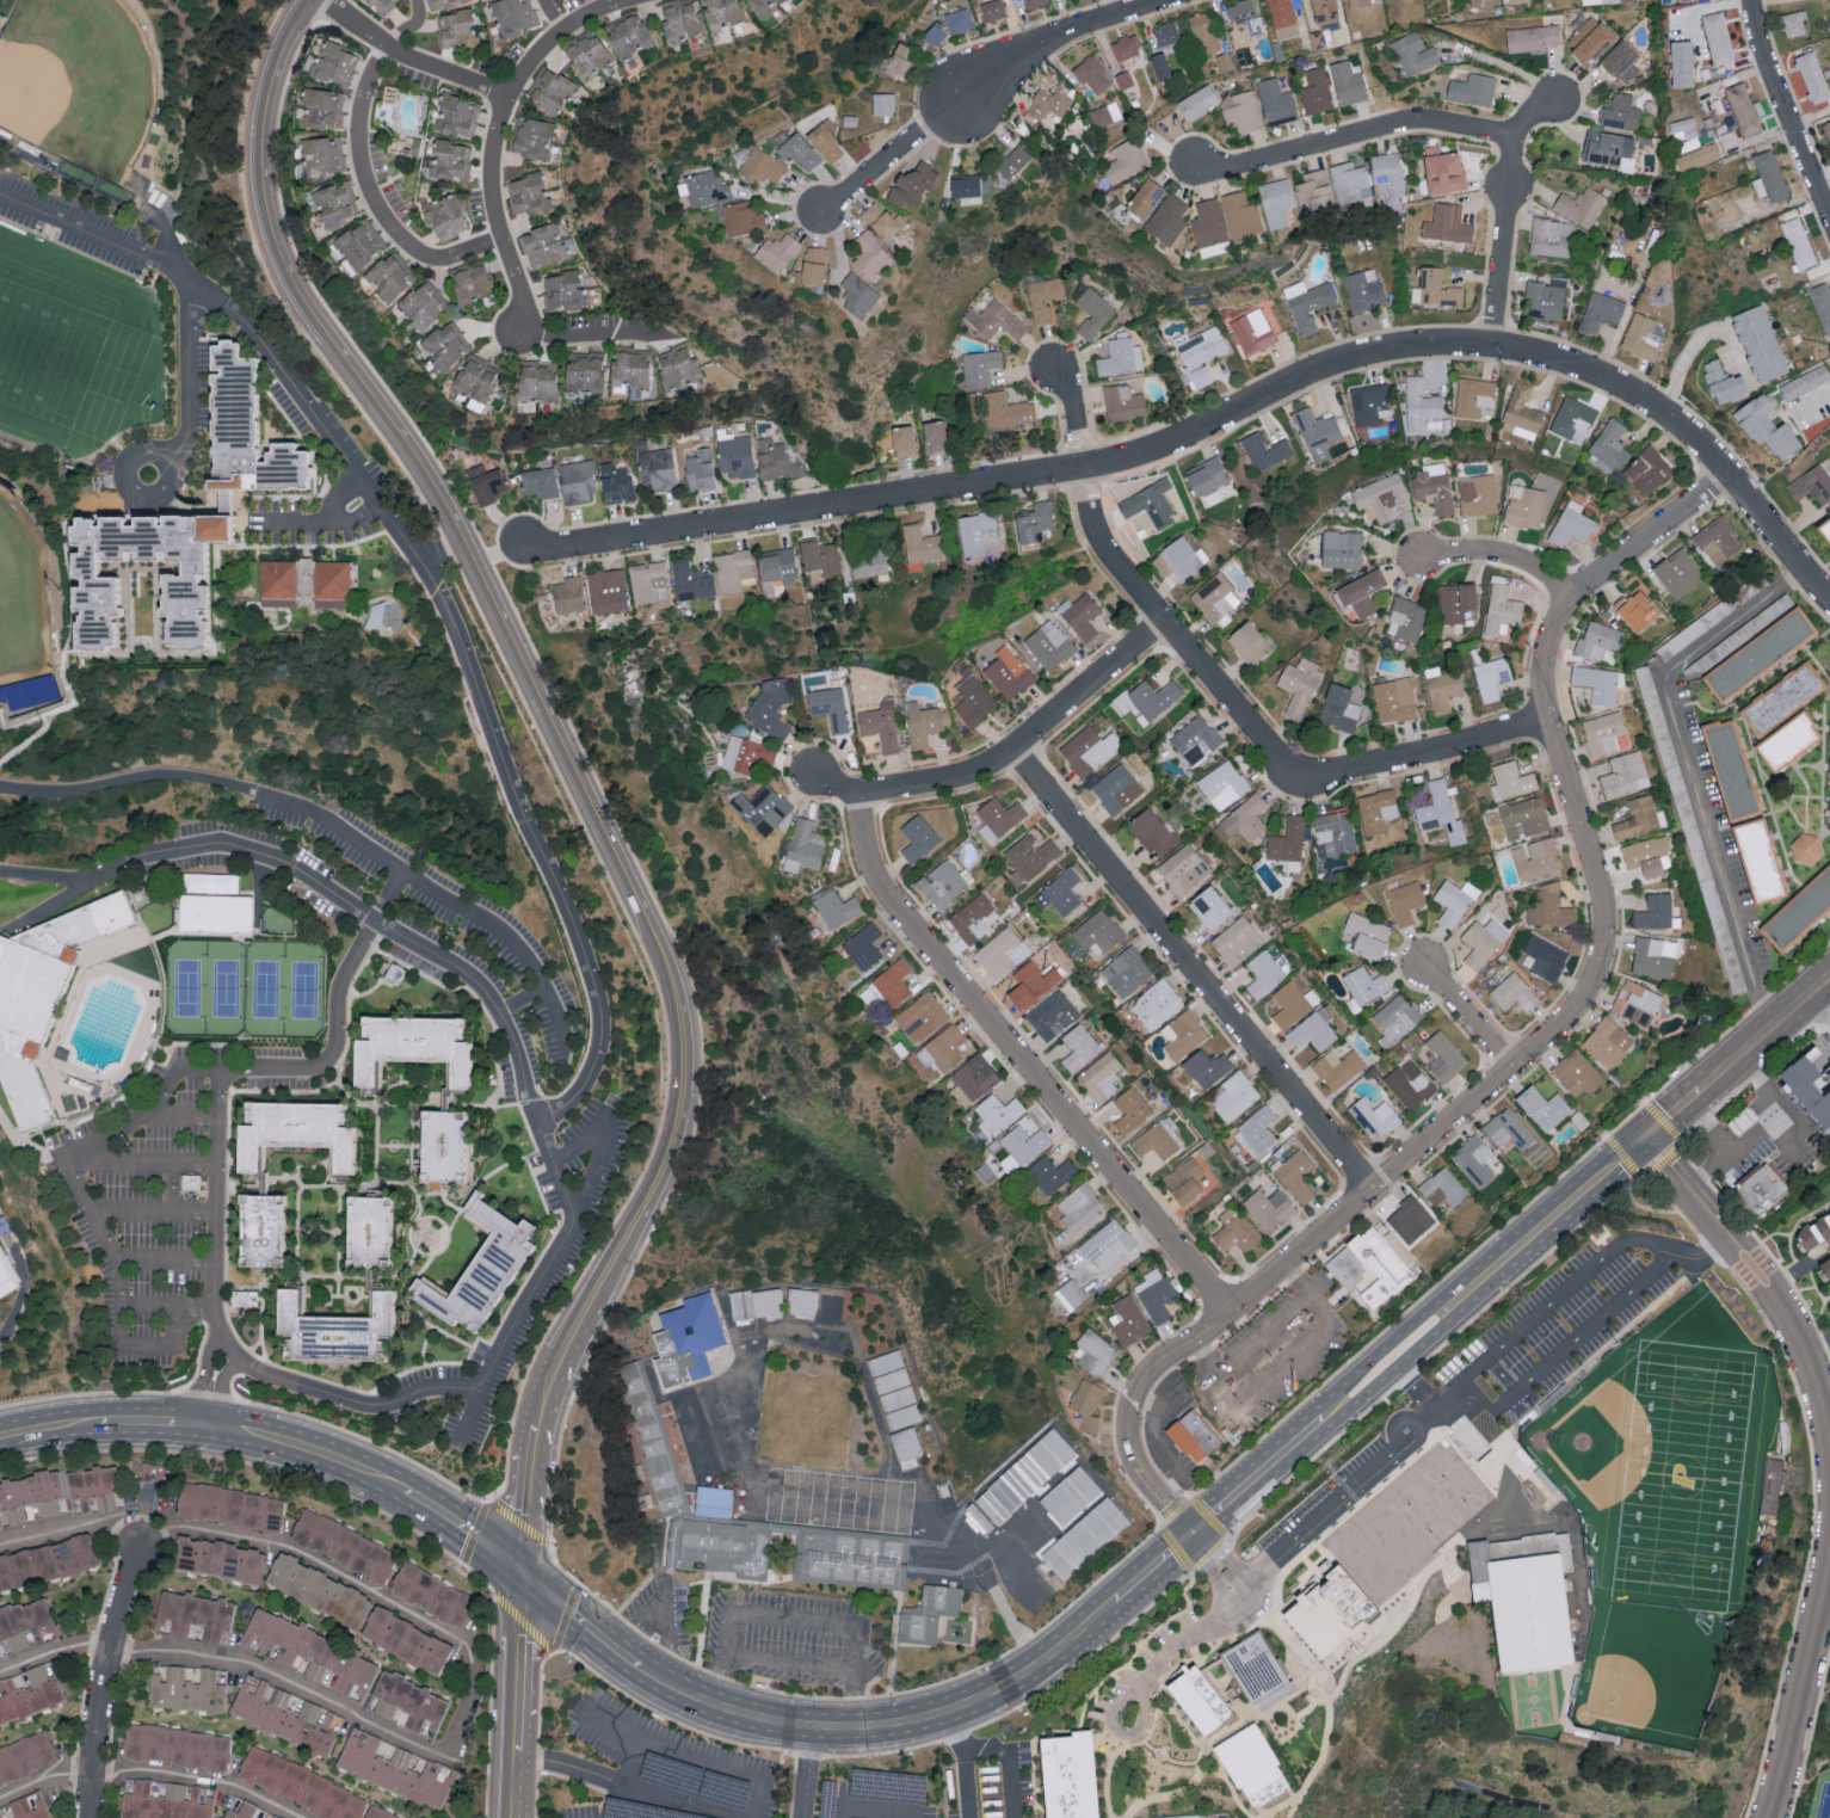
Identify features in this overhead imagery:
building: (1598, 0)
building: (1034, 2)
building: (1358, 2)
building: (442, 4)
building: (381, 5)
building: (763, 5)
building: (992, 8)
building: (721, 12)
building: (1325, 13)
building: (1245, 14)
building: (513, 16)
road: (548, 16)
building: (1282, 17)
building: (679, 18)
building: (959, 20)
building: (1794, 21)
road: (407, 27)
building: (1166, 32)
building: (1204, 32)
building: (935, 33)
building: (629, 35)
building: (1533, 37)
building: (1718, 37)
building: (1590, 38)
building: (1126, 47)
building: (1415, 53)
park: (215, 54)
building: (586, 54)
building: (900, 58)
road: (409, 60)
building: (1621, 60)
building: (332, 62)
building: (1682, 62)
building: (1160, 64)
road: (1505, 67)
building: (1093, 73)
building: (1812, 76)
park: (76, 81)
building: (1348, 82)
building: (550, 87)
road: (981, 87)
building: (1472, 88)
building: (1315, 90)
building: (1197, 100)
building: (1276, 100)
building: (1050, 101)
building: (883, 103)
building: (322, 107)
building: (1743, 109)
road: (1785, 109)
building: (1241, 110)
building: (1621, 111)
building: (456, 113)
building: (1105, 113)
road: (1811, 118)
building: (1684, 128)
building: (1828, 128)
road: (498, 133)
building: (532, 136)
road: (1355, 136)
building: (826, 140)
building: (405, 144)
building: (799, 149)
building: (324, 154)
building: (1697, 156)
building: (449, 158)
building: (1127, 159)
building: (1013, 160)
building: (762, 165)
building: (1443, 170)
building: (1770, 174)
building: (1388, 178)
building: (1351, 183)
building: (912, 184)
building: (966, 185)
building: (705, 187)
building: (1315, 189)
building: (526, 192)
building: (1145, 197)
building: (1276, 201)
building: (335, 202)
road: (371, 203)
building: (1581, 204)
building: (1241, 214)
road: (1508, 214)
building: (445, 216)
building: (743, 217)
building: (1167, 218)
building: (883, 220)
building: (1447, 223)
building: (1209, 227)
building: (1552, 236)
building: (359, 242)
building: (1799, 242)
building: (543, 245)
building: (777, 251)
building: (870, 253)
building: (814, 264)
building: (388, 275)
building: (470, 283)
building: (1438, 288)
building: (562, 289)
building: (1363, 289)
building: (858, 295)
building: (1045, 297)
building: (1545, 298)
building: (423, 303)
building: (1308, 303)
building: (1823, 306)
building: (1601, 310)
building: (1093, 312)
building: (996, 319)
road: (591, 325)
building: (1252, 331)
building: (1641, 335)
building: (1760, 343)
building: (445, 344)
road: (1693, 344)
park: (60, 347)
building: (1200, 353)
building: (1120, 357)
building: (678, 365)
building: (980, 366)
building: (630, 368)
building: (584, 371)
building: (475, 380)
building: (537, 380)
building: (1724, 382)
building: (1805, 382)
road: (189, 388)
building: (1473, 396)
road: (1814, 401)
building: (1123, 402)
building: (1370, 402)
building: (1421, 403)
building: (1522, 411)
building: (1008, 412)
building: (1573, 419)
road: (1227, 420)
building: (1434, 423)
building: (1767, 425)
parking lot: (320, 431)
building: (1318, 432)
building: (238, 435)
building: (935, 436)
building: (904, 440)
building: (1609, 446)
building: (1265, 449)
building: (735, 454)
building: (776, 460)
building: (657, 468)
building: (698, 469)
building: (1647, 469)
building: (1207, 475)
building: (578, 480)
building: (540, 481)
building: (485, 482)
building: (616, 482)
building: (1812, 483)
building: (1434, 486)
building: (1478, 494)
road: (337, 497)
building: (1381, 497)
building: (1150, 503)
building: (1524, 505)
road: (356, 516)
building: (1034, 520)
road: (294, 524)
building: (1572, 525)
building: (1824, 528)
building: (978, 532)
building: (1718, 540)
building: (920, 543)
building: (1343, 548)
road: (443, 549)
road: (462, 549)
building: (820, 555)
building: (1184, 556)
road: (1504, 556)
building: (869, 561)
building: (777, 565)
building: (732, 569)
building: (1678, 572)
road: (432, 580)
building: (691, 580)
building: (648, 581)
building: (302, 586)
park: (25, 592)
building: (1361, 592)
building: (94, 593)
building: (568, 593)
building: (1216, 598)
building: (1459, 602)
building: (1502, 610)
building: (1637, 610)
building: (1080, 614)
building: (1406, 618)
building: (1598, 640)
building: (1249, 641)
building: (1049, 643)
building: (1760, 653)
building: (1008, 672)
building: (1491, 678)
building: (1597, 683)
building: (1300, 684)
building: (1443, 688)
road: (1221, 689)
building: (29, 691)
building: (1782, 696)
building: (1150, 698)
building: (1394, 700)
building: (974, 701)
building: (830, 707)
building: (1339, 707)
building: (771, 708)
building: (925, 722)
building: (881, 725)
building: (1603, 732)
building: (1195, 739)
building: (1788, 740)
building: (1089, 748)
building: (747, 753)
road: (1011, 757)
building: (1730, 768)
road: (1687, 769)
building: (1625, 774)
road: (127, 779)
building: (1512, 781)
building: (1224, 784)
building: (1116, 788)
building: (763, 807)
building: (1376, 811)
building: (1441, 812)
building: (1246, 816)
building: (1524, 816)
building: (999, 818)
building: (1638, 818)
building: (1153, 831)
building: (1333, 832)
building: (918, 837)
building: (1288, 843)
building: (802, 846)
building: (1806, 848)
building: (1649, 855)
building: (1030, 856)
building: (1536, 858)
building: (1758, 859)
building: (1183, 869)
road: (42, 877)
building: (210, 882)
building: (942, 883)
building: (1060, 892)
road: (438, 894)
road: (63, 896)
building: (1404, 899)
building: (1454, 900)
building: (1549, 905)
building: (837, 907)
building: (1210, 907)
building: (1655, 911)
building: (1799, 912)
building: (215, 918)
building: (972, 918)
building: (1098, 930)
building: (1368, 935)
building: (1237, 941)
building: (1483, 941)
building: (863, 945)
building: (1002, 951)
building: (1546, 956)
building: (1653, 956)
building: (1127, 970)
road: (1193, 972)
building: (394, 973)
building: (1264, 973)
building: (889, 984)
building: (1033, 984)
building: (1364, 986)
park: (244, 991)
building: (1514, 992)
building: (42, 997)
road: (522, 998)
building: (1635, 1002)
building: (1293, 1003)
building: (1157, 1004)
road: (1818, 1010)
road: (334, 1015)
building: (1053, 1015)
building: (923, 1016)
building: (1395, 1018)
road: (1472, 1018)
building: (1313, 1029)
building: (1183, 1034)
road: (1766, 1034)
road: (1553, 1037)
building: (1608, 1042)
building: (1079, 1047)
building: (943, 1049)
building: (411, 1052)
building: (1444, 1056)
road: (1025, 1061)
building: (1208, 1067)
building: (1338, 1067)
building: (1577, 1072)
building: (975, 1077)
building: (1101, 1077)
building: (1410, 1084)
building: (1810, 1085)
road: (1695, 1093)
building: (1234, 1095)
building: (1544, 1107)
building: (1130, 1109)
building: (999, 1111)
road: (180, 1117)
building: (1374, 1117)
road: (1665, 1120)
building: (1742, 1124)
road: (1711, 1127)
building: (1509, 1128)
building: (1257, 1130)
road: (1764, 1130)
building: (1828, 1132)
building: (1158, 1139)
building: (292, 1140)
road: (602, 1140)
building: (1025, 1142)
road: (1785, 1142)
building: (439, 1154)
building: (1474, 1159)
building: (1010, 1163)
road: (146, 1164)
road: (1663, 1165)
building: (1052, 1173)
building: (1296, 1175)
building: (1184, 1179)
road: (73, 1181)
building: (1443, 1188)
building: (1761, 1193)
parking lot: (155, 1194)
building: (1080, 1207)
building: (1269, 1208)
road: (153, 1212)
building: (1410, 1219)
road: (1510, 1220)
building: (1236, 1230)
building: (1814, 1231)
building: (259, 1235)
building: (364, 1237)
building: (1108, 1244)
road: (1655, 1247)
road: (552, 1261)
building: (1369, 1261)
road: (162, 1262)
building: (1825, 1263)
building: (481, 1270)
building: (5, 1277)
road: (1299, 1277)
road: (1481, 1280)
building: (1072, 1293)
road: (1776, 1293)
building: (1156, 1294)
building: (802, 1301)
building: (733, 1305)
building: (831, 1306)
building: (1128, 1320)
building: (740, 1332)
road: (846, 1333)
building: (331, 1335)
road: (574, 1336)
building: (688, 1339)
road: (1441, 1345)
road: (143, 1348)
building: (1095, 1351)
road: (1204, 1358)
road: (201, 1381)
road: (216, 1391)
road: (88, 1395)
road: (208, 1395)
building: (1087, 1404)
road: (1233, 1409)
road: (468, 1415)
road: (156, 1425)
road: (49, 1429)
road: (1437, 1432)
building: (1194, 1436)
building: (692, 1438)
road: (366, 1440)
building: (905, 1443)
road: (1160, 1446)
road: (1335, 1449)
road: (312, 1452)
park: (1675, 1460)
road: (264, 1467)
building: (143, 1471)
building: (1025, 1475)
road: (1256, 1475)
park: (1686, 1478)
building: (91, 1481)
building: (1772, 1486)
building: (1071, 1495)
building: (31, 1496)
building: (671, 1496)
building: (713, 1500)
road: (489, 1502)
building: (229, 1508)
road: (143, 1515)
road: (1176, 1516)
building: (979, 1517)
road: (1300, 1521)
building: (0, 1523)
road: (461, 1528)
road: (1339, 1534)
traffic signals: (1190, 1535)
road: (249, 1536)
building: (1085, 1537)
road: (1222, 1541)
building: (343, 1546)
building: (941, 1546)
road: (1220, 1546)
building: (218, 1558)
building: (47, 1560)
traffic signals: (518, 1566)
road: (1152, 1569)
road: (1213, 1572)
road: (1252, 1582)
building: (942, 1591)
building: (431, 1592)
building: (1529, 1597)
road: (1251, 1600)
road: (670, 1603)
building: (1349, 1611)
building: (361, 1613)
building: (192, 1615)
road: (575, 1620)
building: (24, 1621)
road: (800, 1621)
building: (919, 1631)
parking lot: (793, 1638)
road: (1184, 1639)
road: (550, 1647)
building: (307, 1651)
road: (50, 1652)
building: (1, 1654)
road: (795, 1664)
road: (281, 1675)
building: (1262, 1675)
road: (103, 1677)
park: (1651, 1680)
building: (186, 1685)
building: (29, 1690)
road: (522, 1691)
road: (1803, 1693)
building: (1199, 1696)
road: (856, 1699)
building: (405, 1701)
road: (469, 1703)
building: (285, 1713)
road: (888, 1725)
road: (955, 1731)
road: (1121, 1734)
building: (175, 1744)
road: (988, 1750)
road: (887, 1751)
building: (25, 1754)
road: (701, 1762)
building: (1252, 1763)
building: (395, 1765)
road: (572, 1769)
parking lot: (663, 1769)
road: (154, 1770)
road: (809, 1773)
building: (1070, 1774)
building: (301, 1783)
road: (967, 1783)
road: (1010, 1788)
road: (657, 1794)
building: (167, 1799)
parking lot: (879, 1801)
park: (1824, 1802)
building: (30, 1805)
road: (859, 1807)
building: (246, 1811)
road: (899, 1811)
building: (378, 1812)
building: (1194, 1812)
building: (0, 1816)

